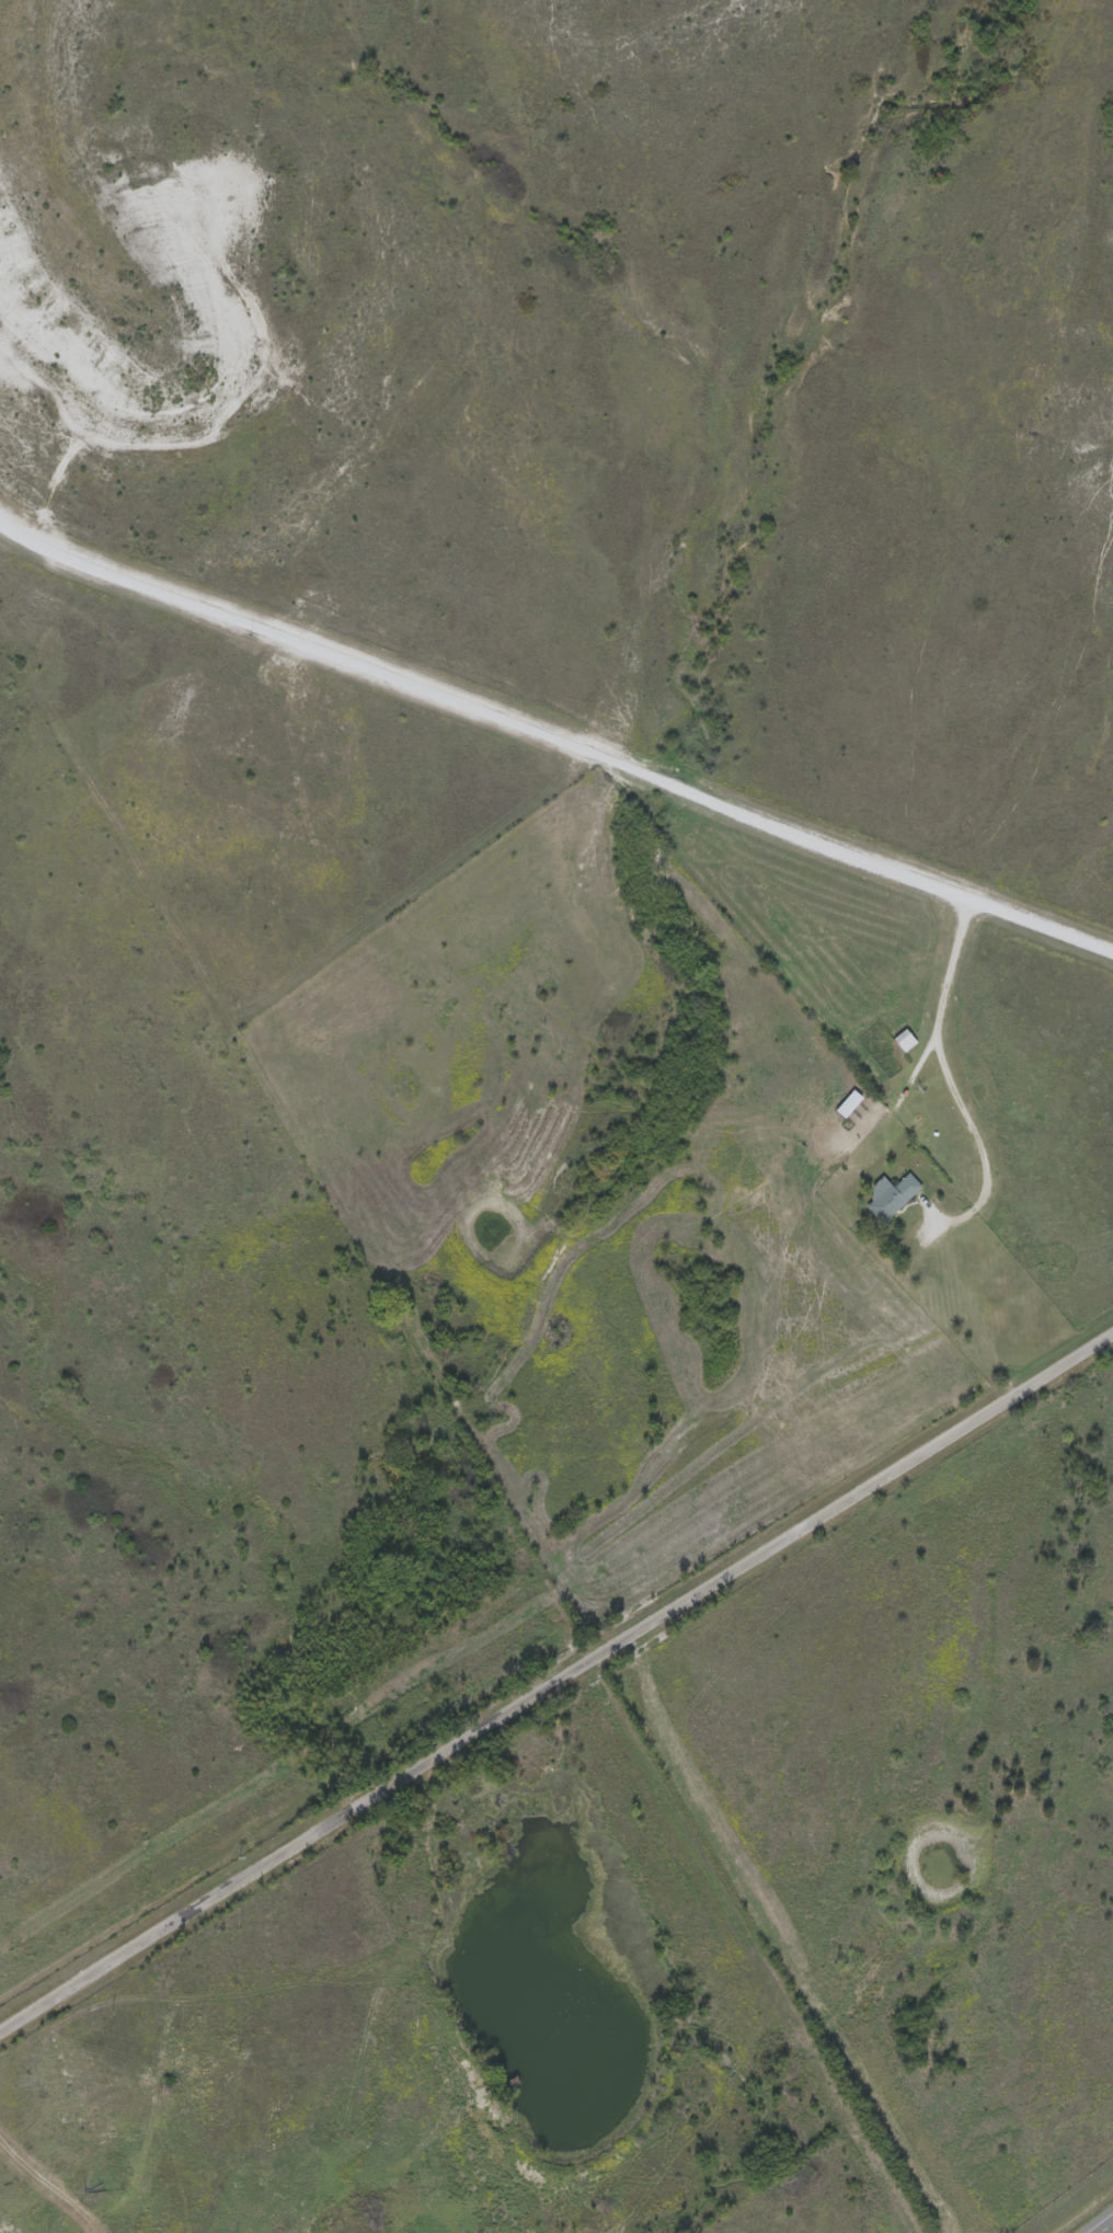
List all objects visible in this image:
road: (554, 735)
building: (899, 1041)
road: (952, 1075)
building: (884, 1196)
road: (956, 1294)
road: (556, 1675)
building: (91, 2146)
road: (1104, 2226)

